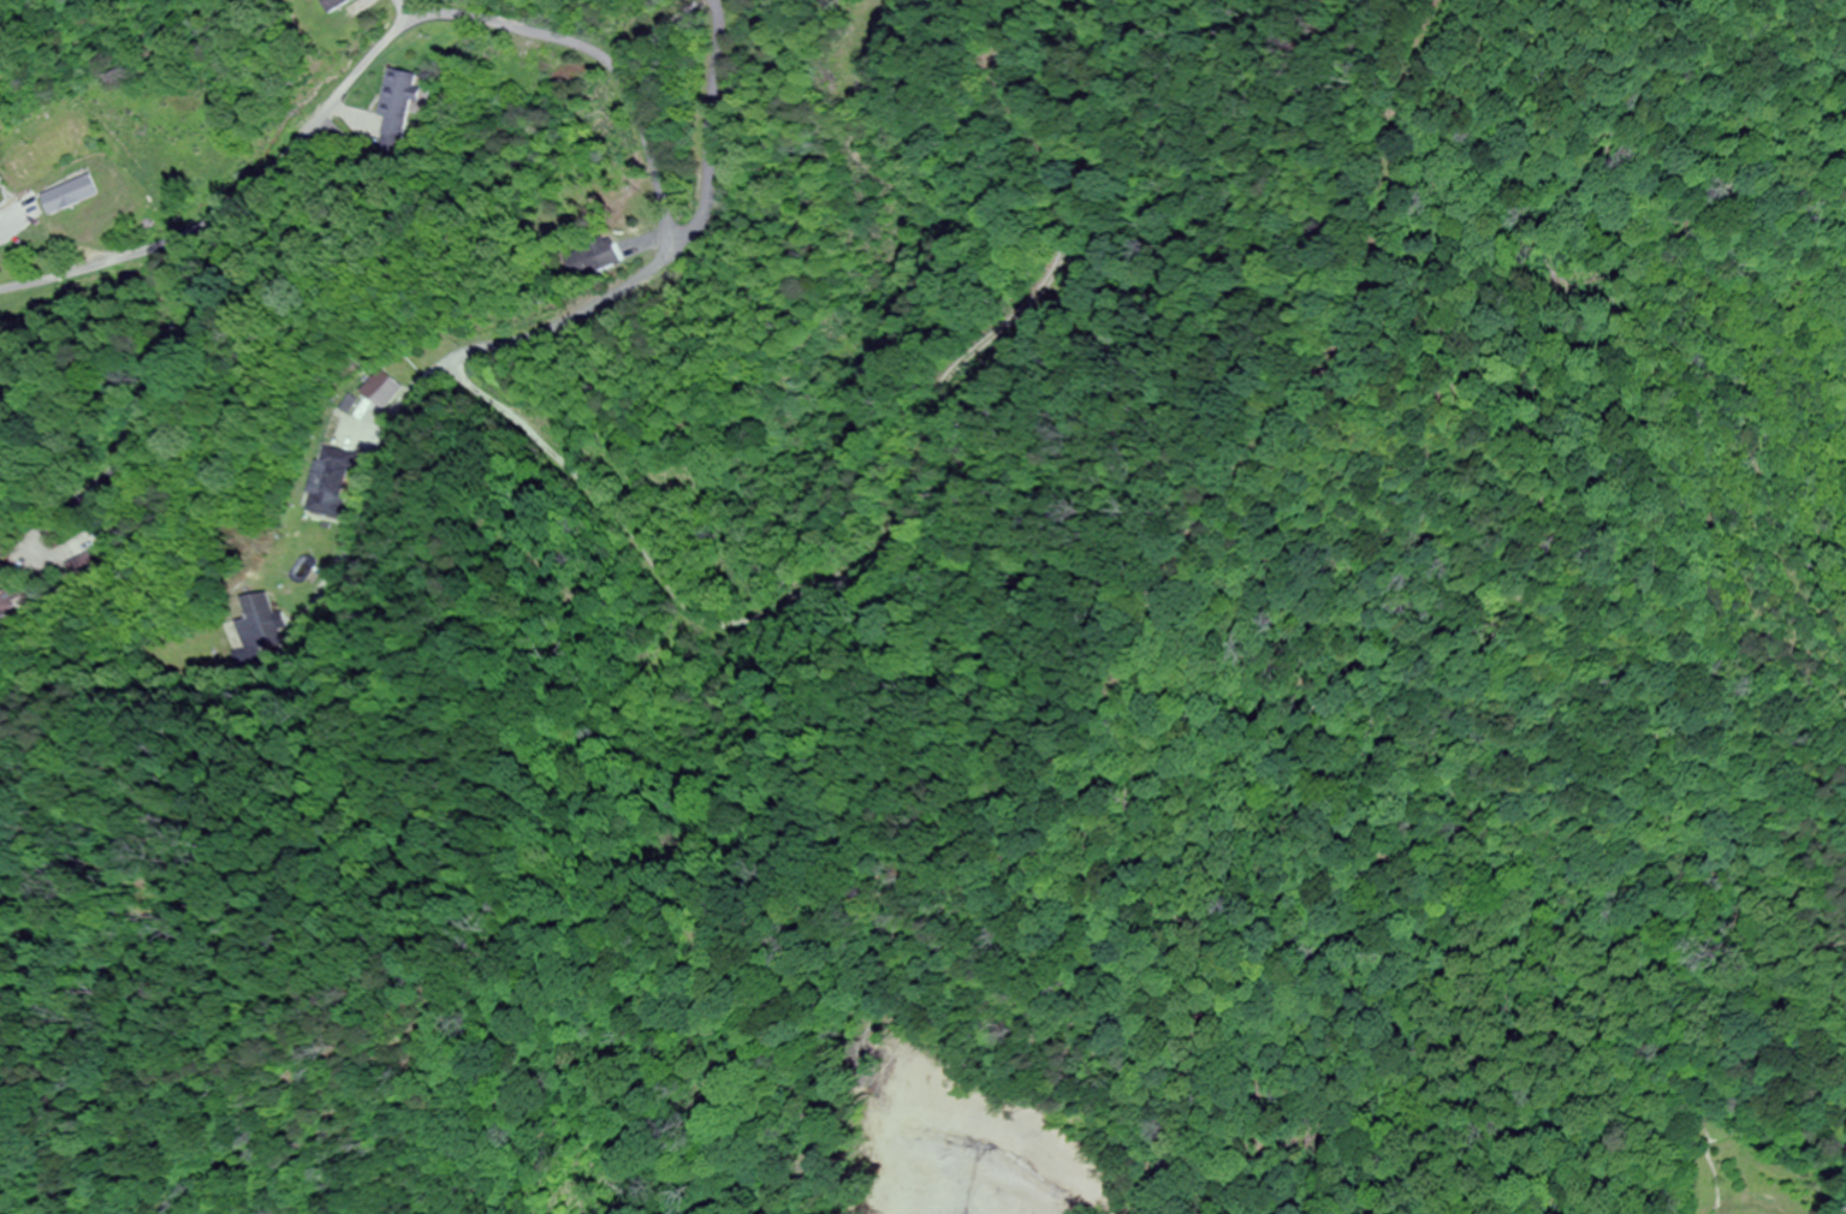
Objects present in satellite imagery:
building: (339, 5)
road: (400, 18)
building: (400, 95)
road: (653, 177)
building: (69, 196)
road: (225, 202)
building: (600, 257)
road: (368, 377)
building: (317, 482)
building: (8, 601)
building: (250, 603)
road: (173, 660)

